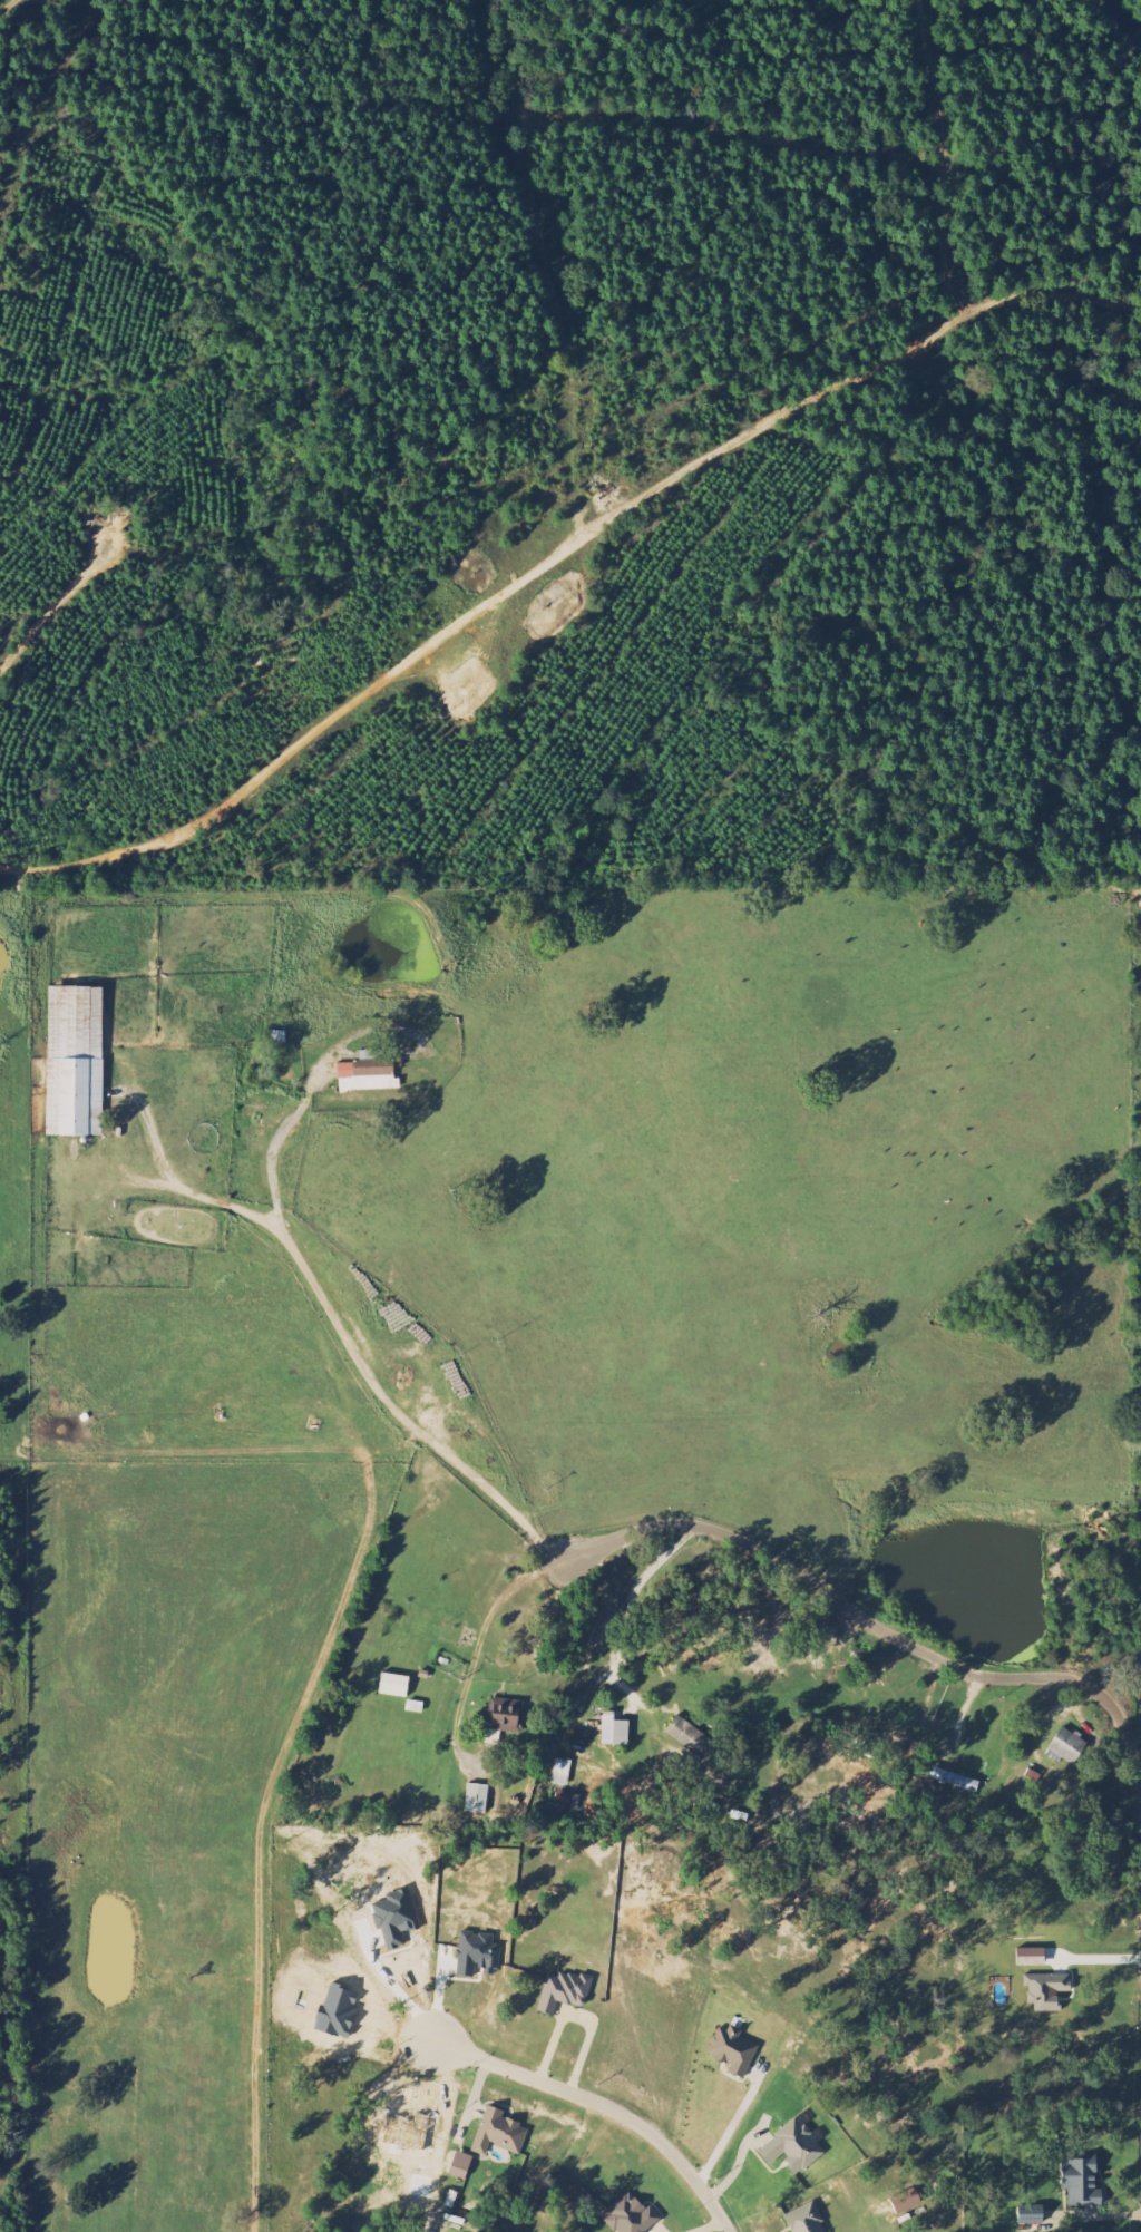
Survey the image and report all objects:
road: (115, 538)
road: (557, 558)
road: (41, 624)
building: (276, 1039)
building: (75, 1062)
building: (369, 1073)
road: (875, 1624)
building: (503, 1715)
building: (614, 1731)
building: (691, 1738)
building: (1065, 1747)
building: (477, 1799)
building: (567, 1802)
building: (477, 1957)
building: (564, 1992)
building: (732, 2051)
road: (603, 2106)
building: (498, 2134)
building: (791, 2148)
building: (1082, 2184)
building: (905, 2201)
building: (631, 2216)
building: (804, 2220)

